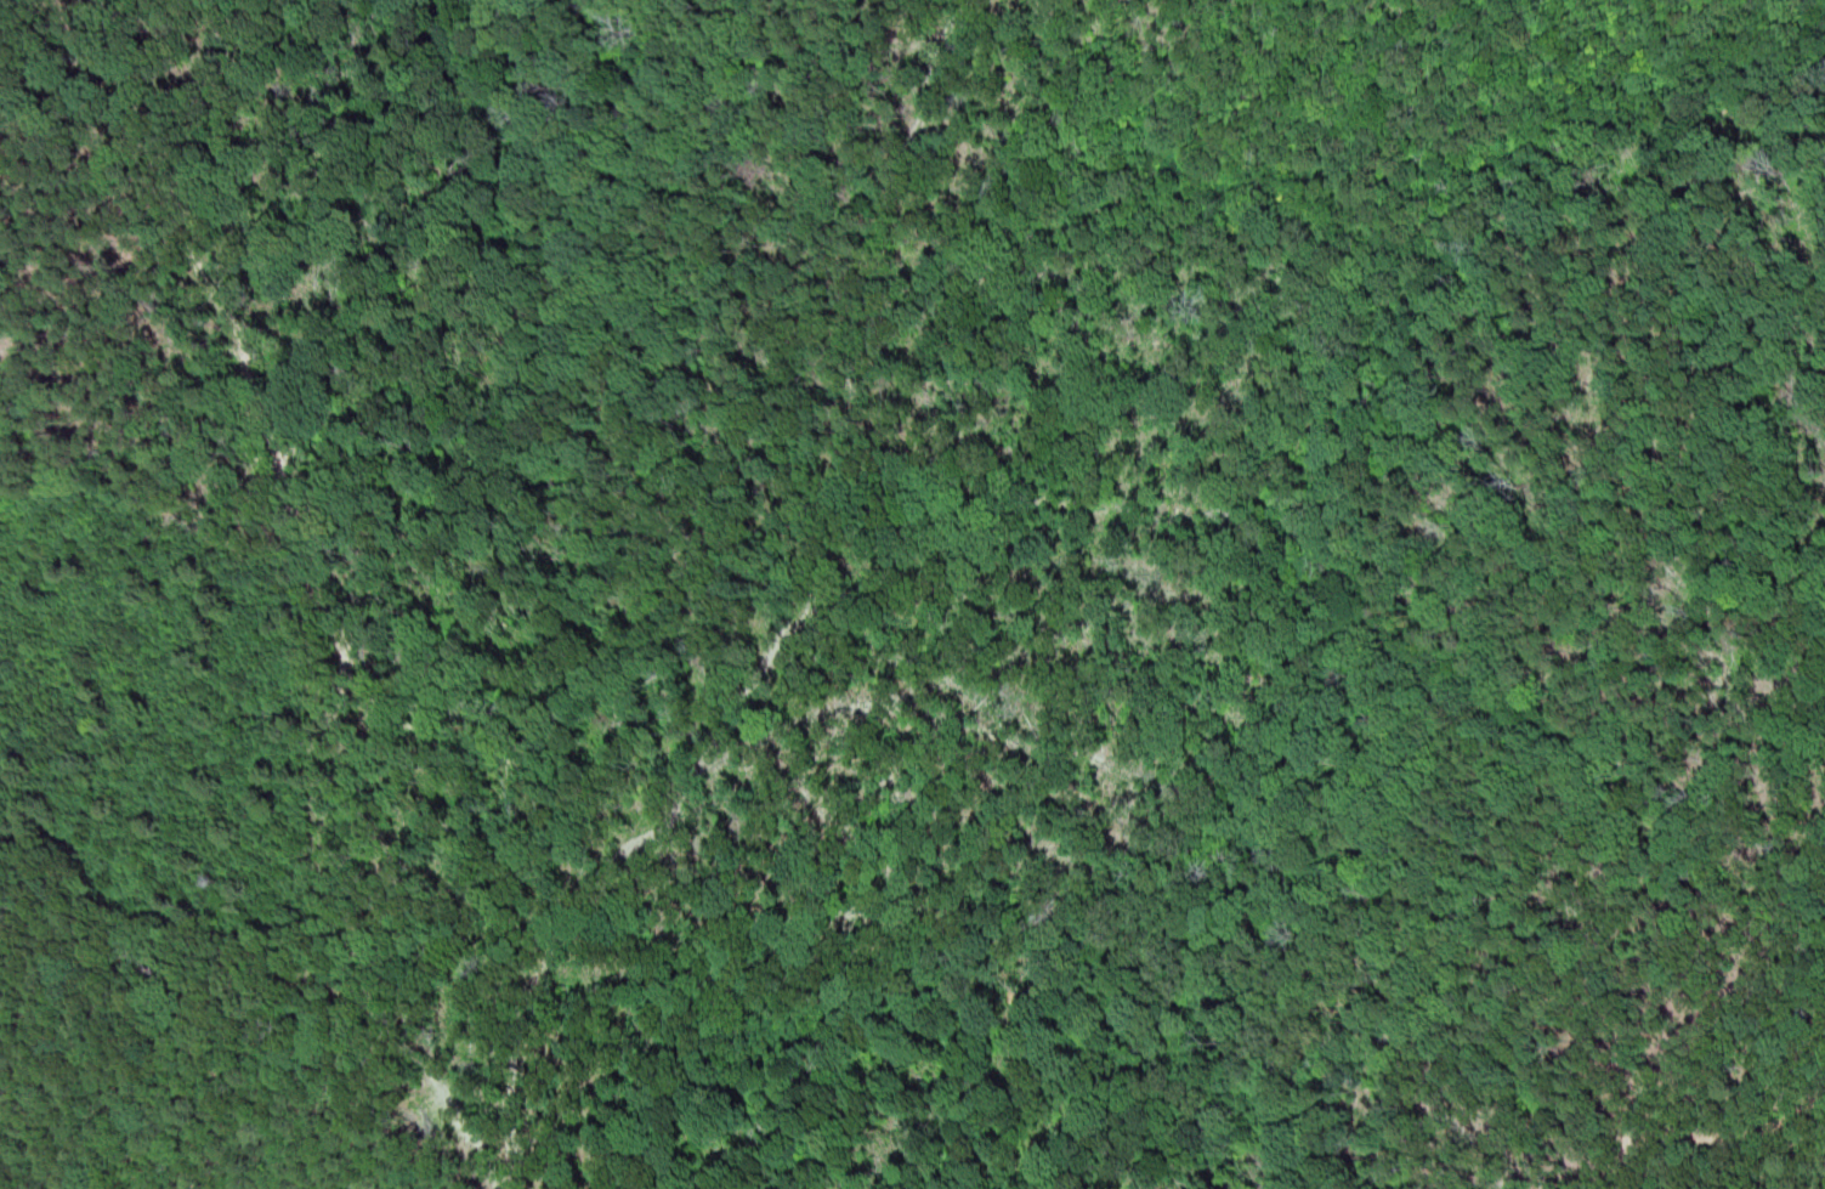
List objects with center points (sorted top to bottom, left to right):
road: (1682, 1126)

